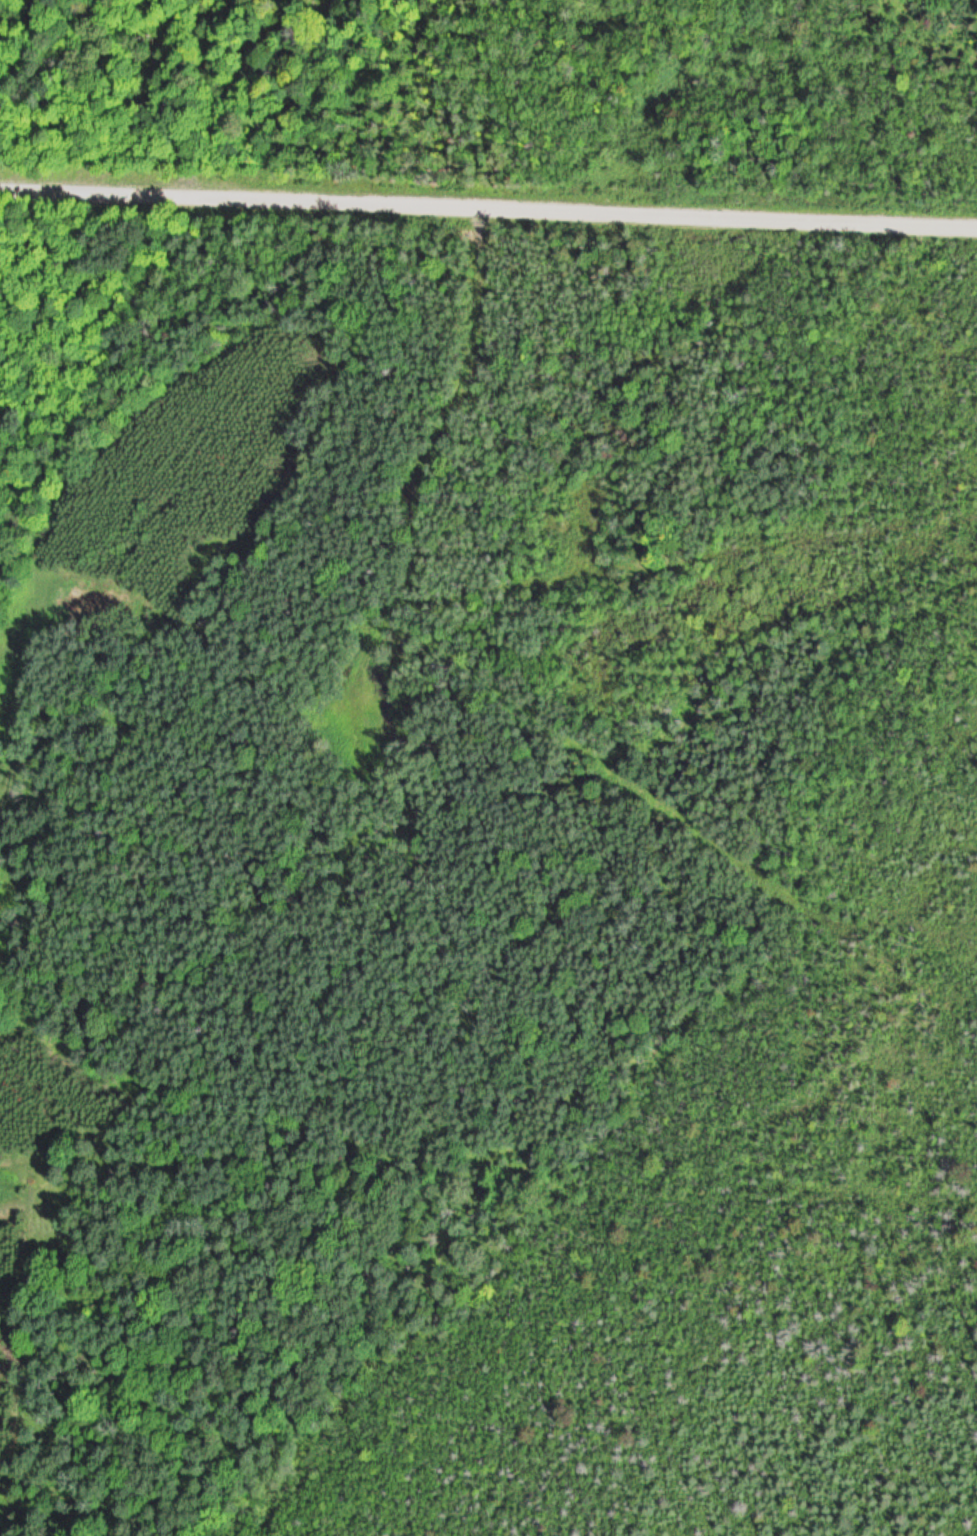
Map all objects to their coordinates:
road: (488, 210)
road: (20, 1160)

